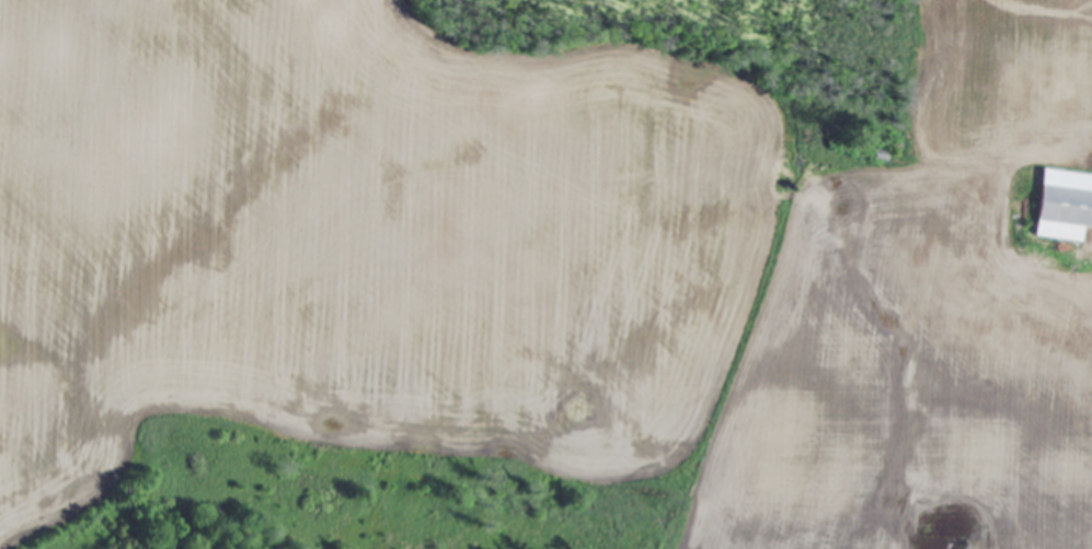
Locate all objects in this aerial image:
building: (1058, 206)

